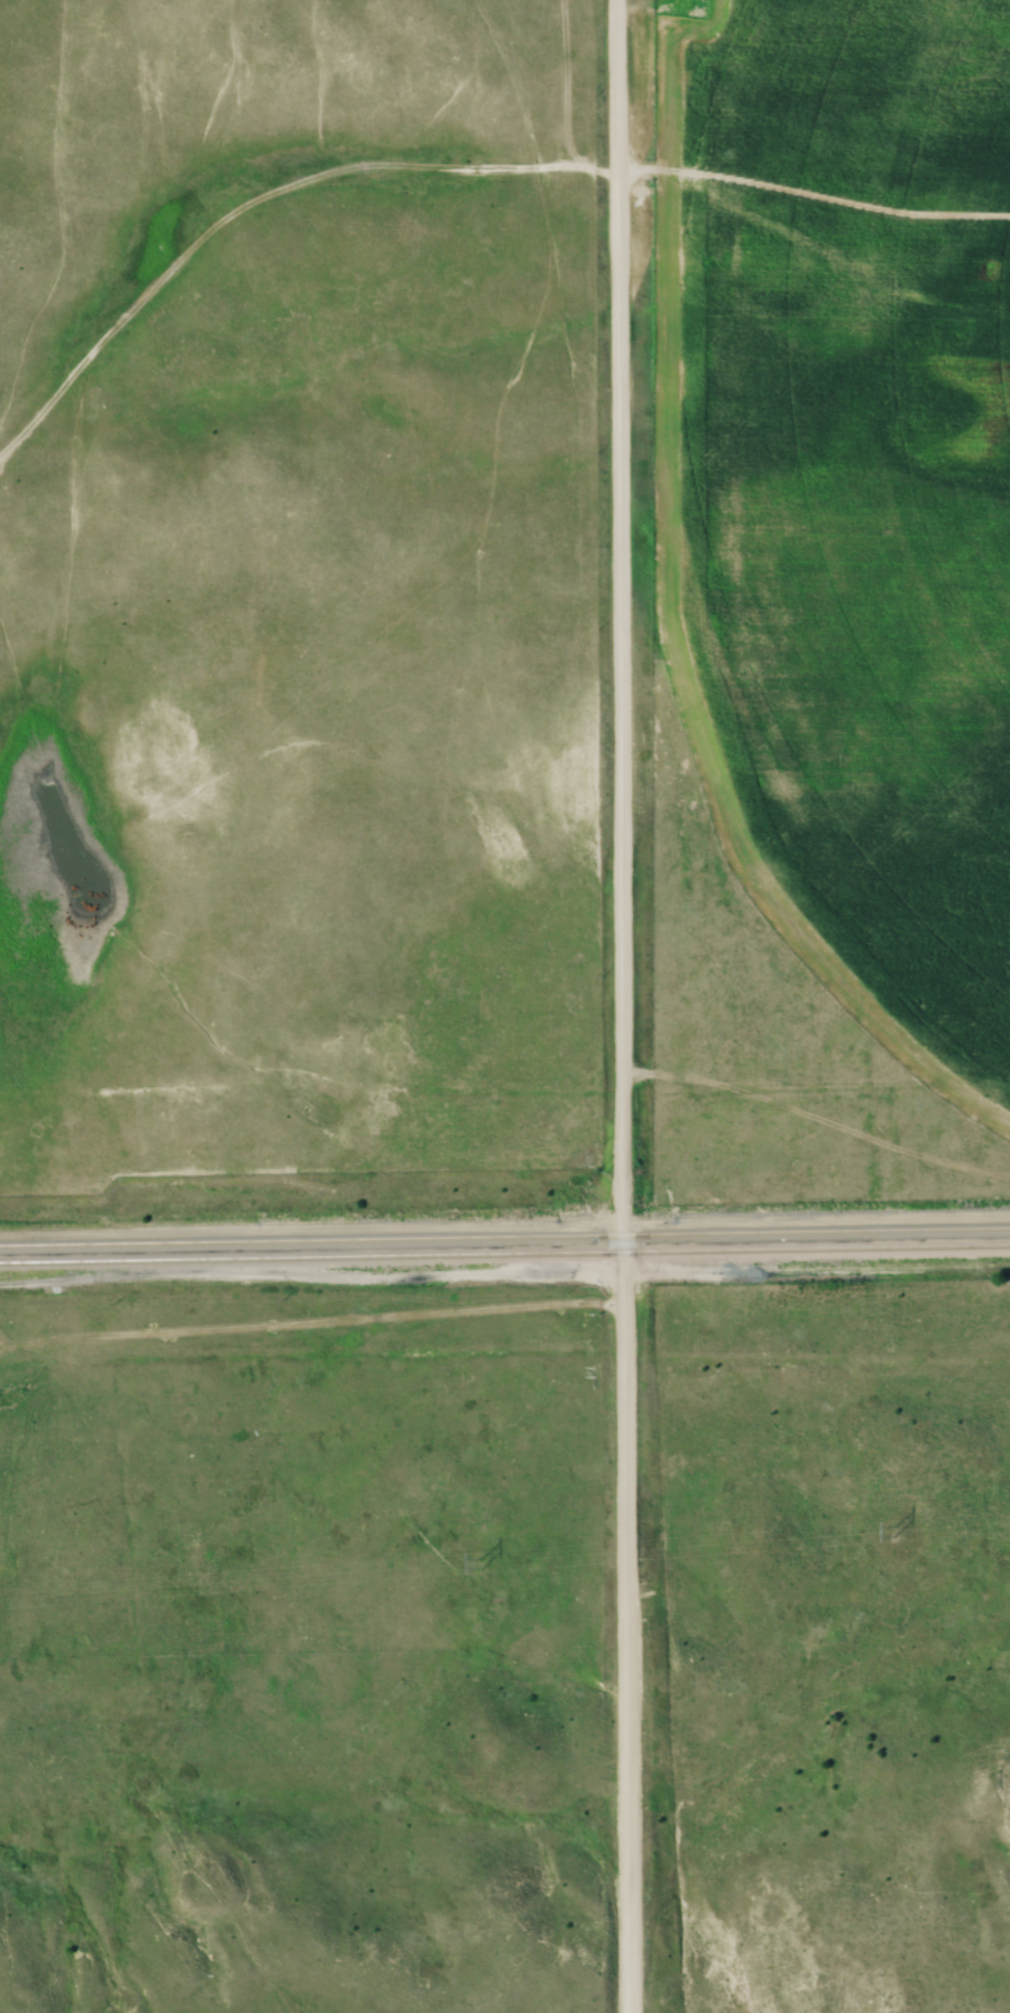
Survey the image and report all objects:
road: (619, 1006)
railway: (504, 1234)
railway: (504, 1252)
power tower: (890, 1532)
power tower: (479, 1561)

